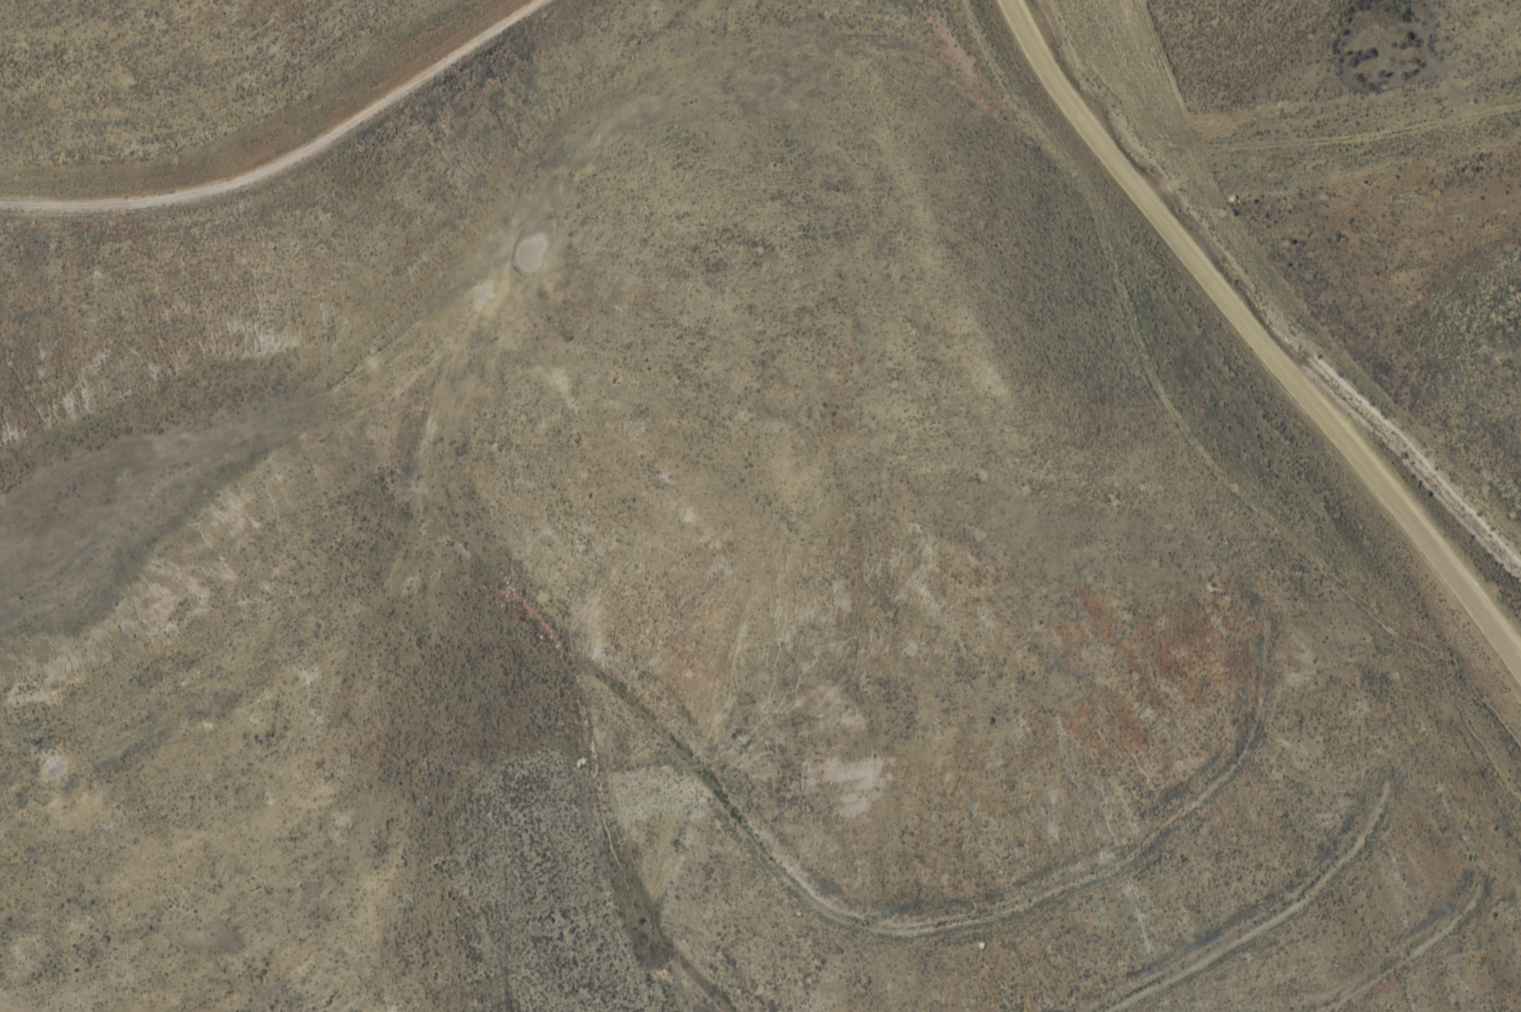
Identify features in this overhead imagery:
road: (409, 65)
road: (162, 184)
road: (1270, 344)

